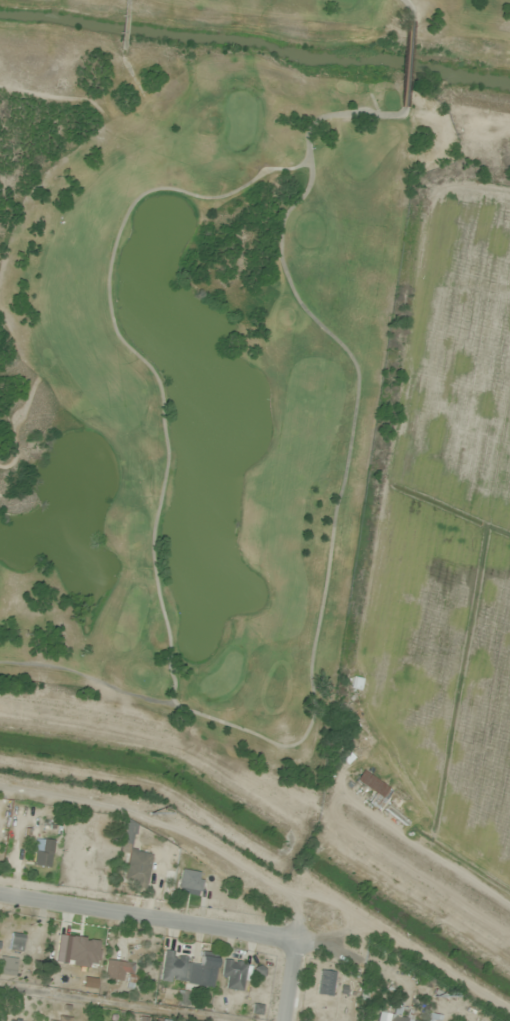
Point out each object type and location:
park: (199, 345)
building: (354, 683)
building: (372, 790)
building: (127, 832)
building: (42, 855)
building: (136, 868)
building: (189, 882)
road: (193, 931)
building: (15, 942)
building: (82, 952)
building: (7, 966)
building: (187, 969)
building: (118, 971)
building: (232, 974)
building: (324, 982)
road: (293, 985)
building: (391, 1017)
building: (430, 1017)
building: (64, 1019)
building: (12, 1020)

